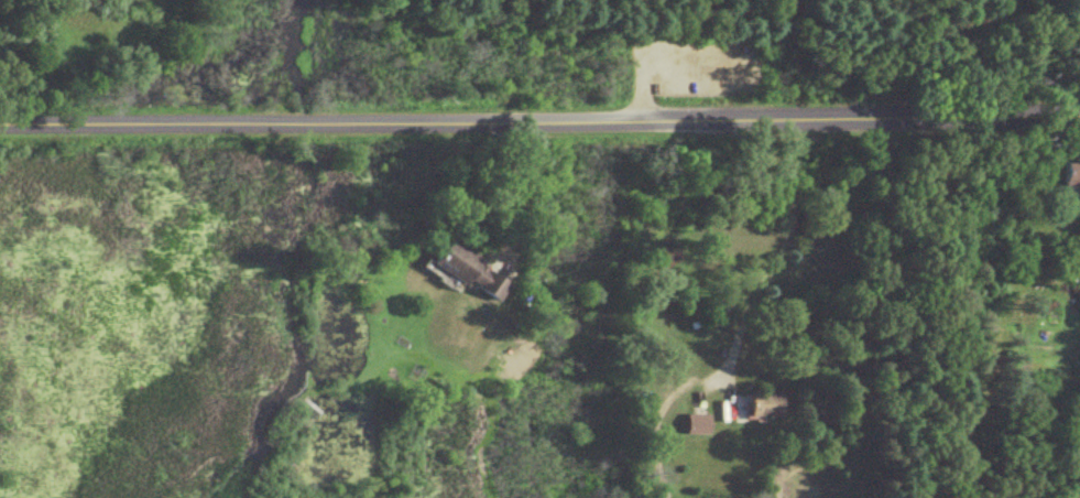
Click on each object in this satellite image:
road: (539, 120)
building: (1071, 173)
road: (514, 191)
building: (467, 268)
road: (750, 308)
building: (765, 401)
building: (697, 422)

